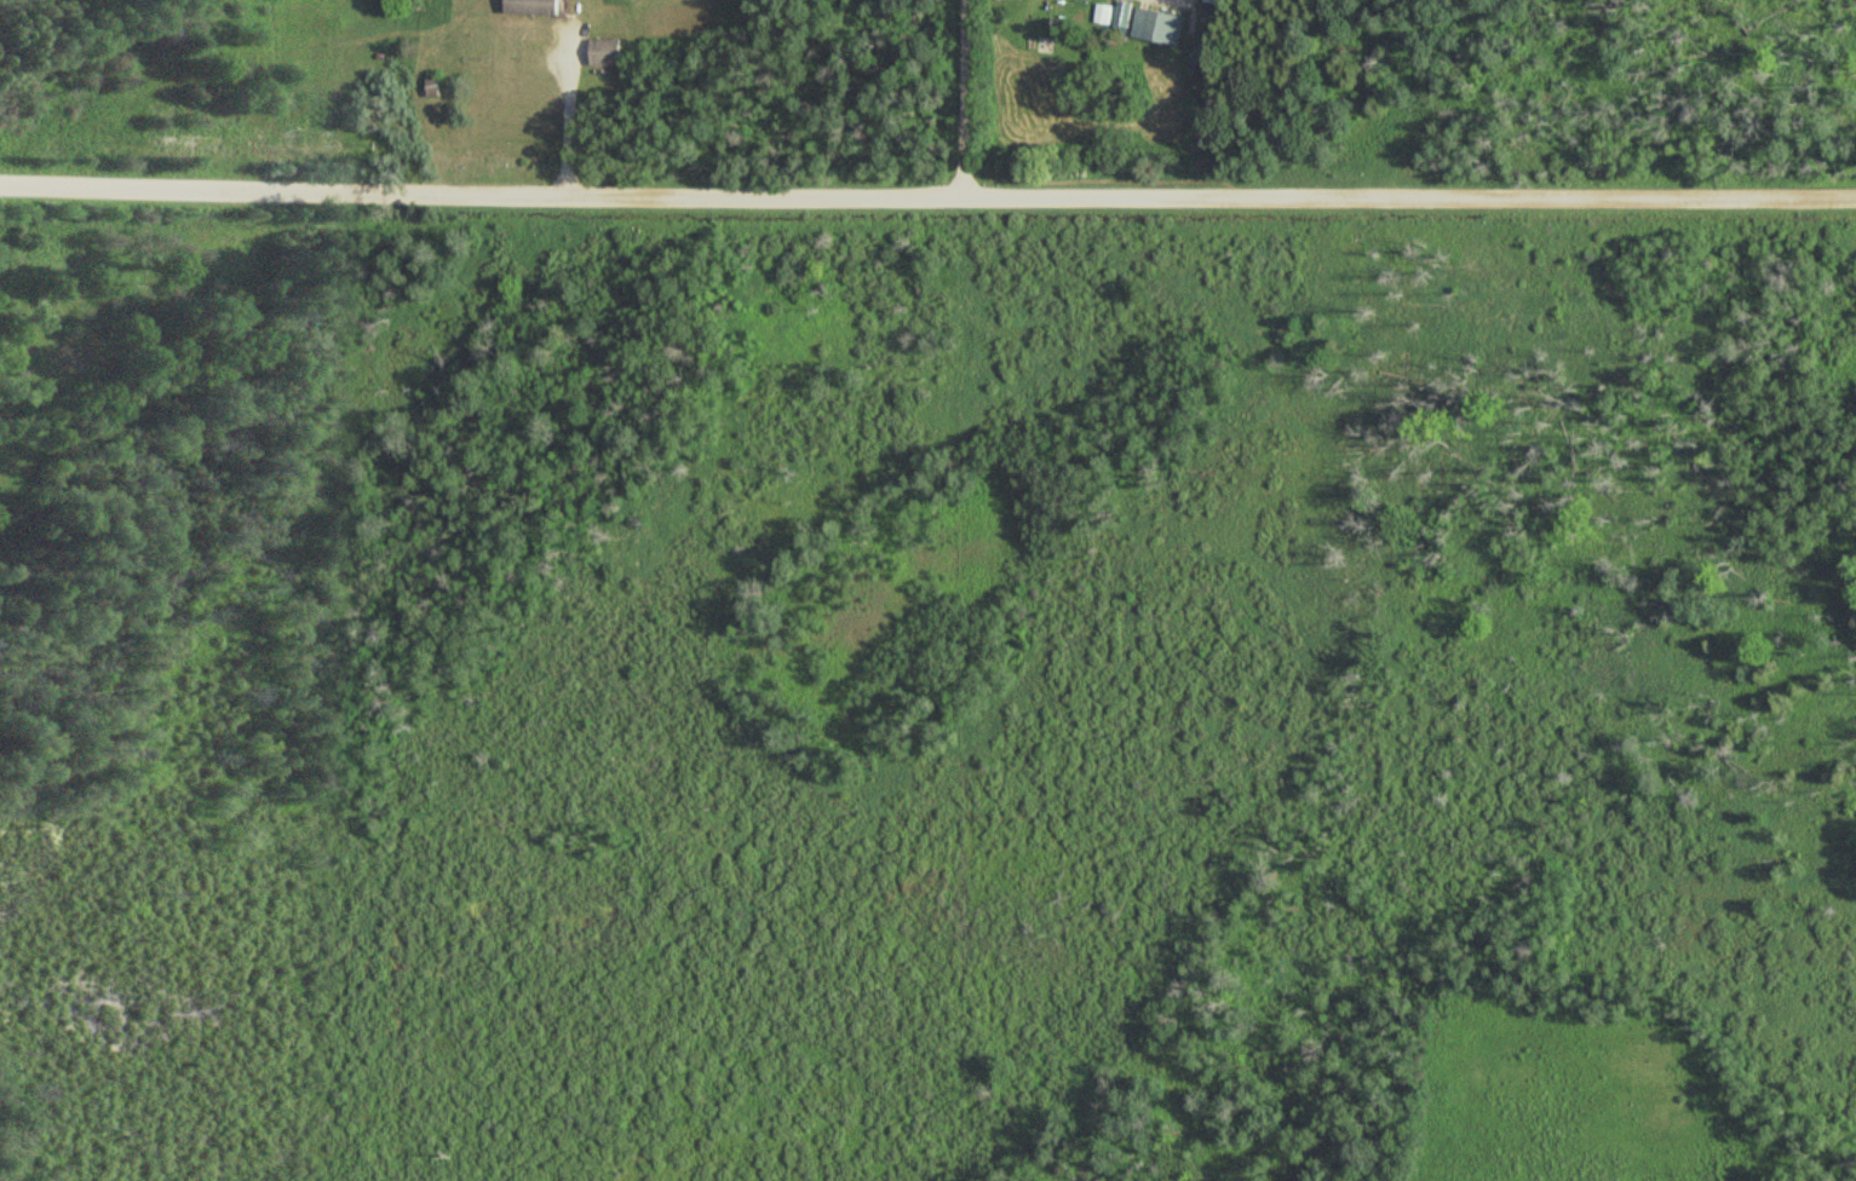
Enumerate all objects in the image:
building: (536, 7)
building: (1150, 24)
building: (608, 52)
road: (964, 97)
road: (927, 194)

